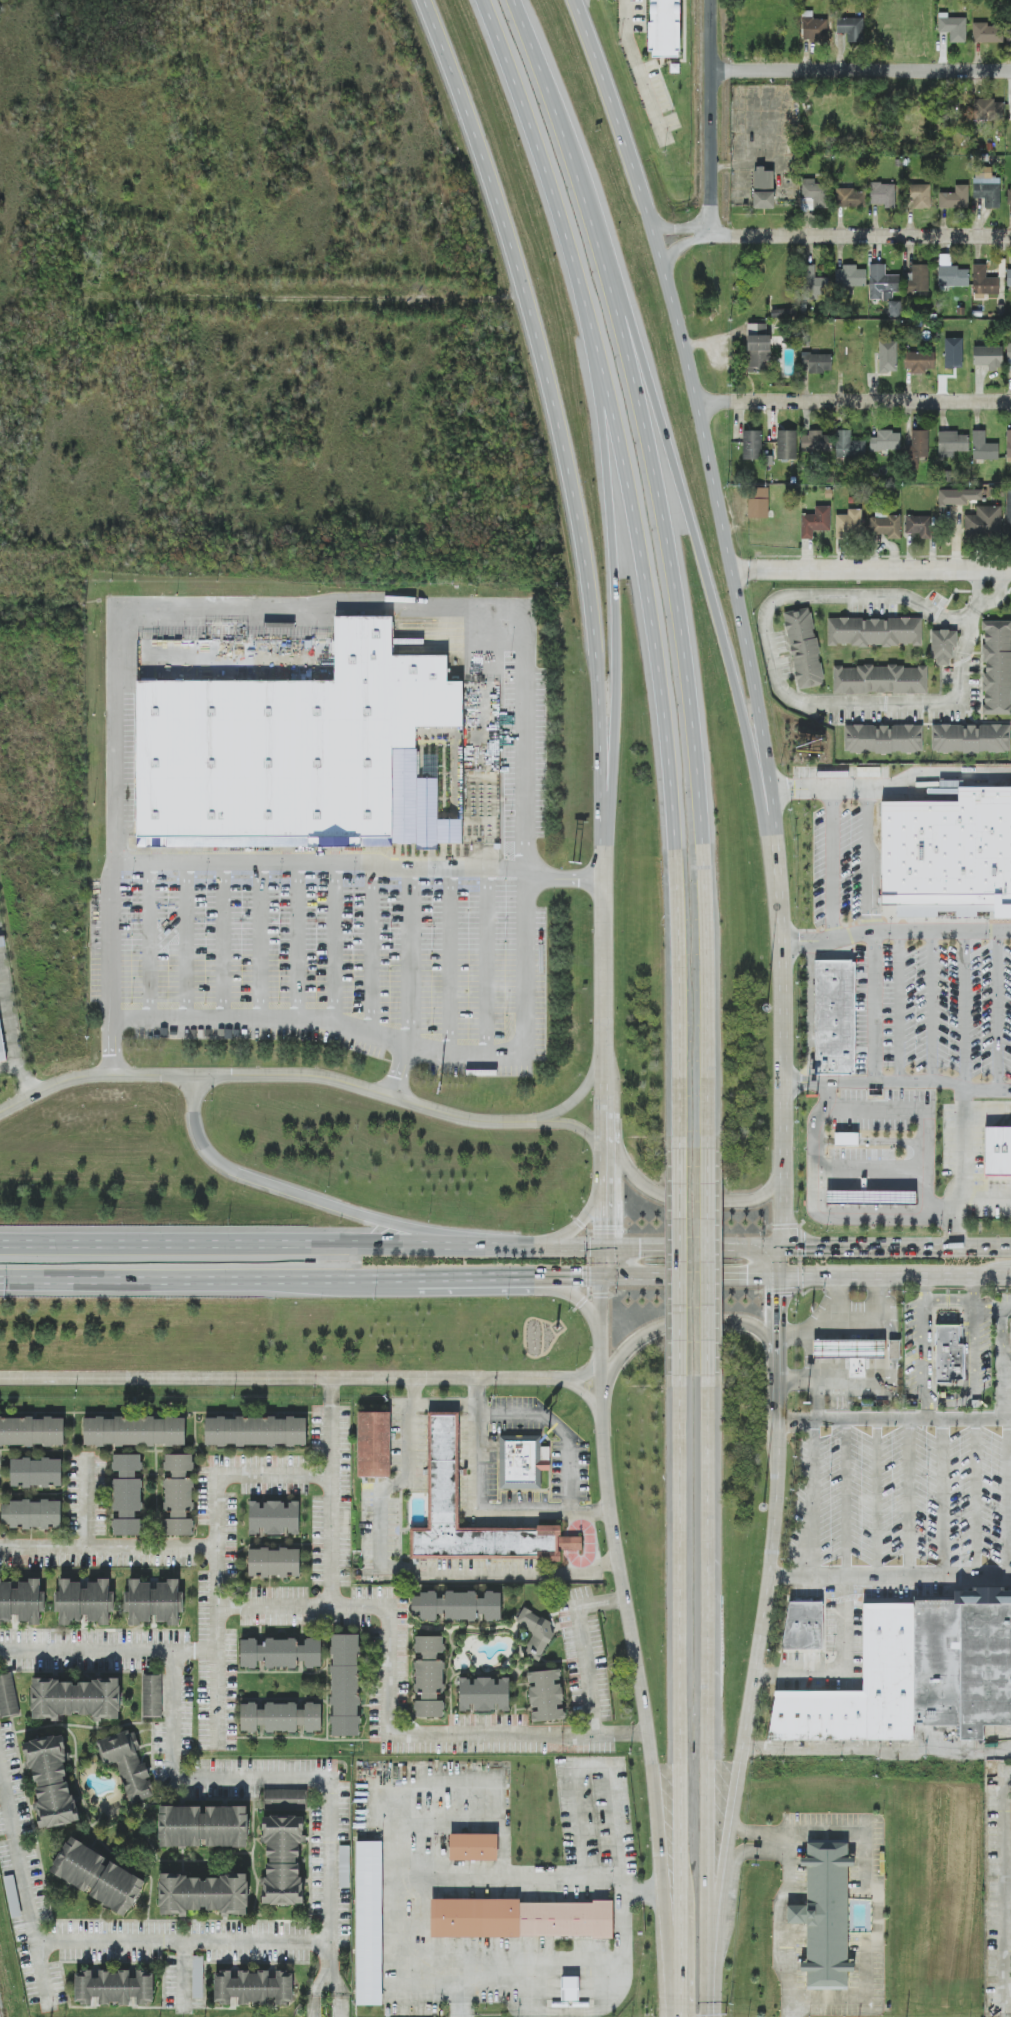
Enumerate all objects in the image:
building: (953, 27)
building: (851, 28)
building: (664, 29)
building: (814, 29)
building: (987, 33)
building: (1009, 33)
road: (639, 68)
road: (861, 71)
road: (553, 97)
building: (986, 110)
road: (711, 116)
road: (534, 142)
building: (763, 179)
building: (987, 190)
building: (812, 194)
building: (882, 194)
building: (920, 196)
building: (1009, 197)
building: (849, 198)
building: (955, 198)
building: (763, 200)
road: (680, 228)
road: (859, 234)
road: (683, 244)
building: (951, 273)
building: (850, 277)
building: (1008, 278)
building: (919, 280)
building: (813, 283)
building: (882, 283)
building: (984, 283)
building: (894, 309)
building: (783, 313)
building: (758, 348)
building: (1009, 355)
building: (888, 357)
building: (988, 357)
building: (918, 361)
building: (954, 362)
building: (816, 363)
road: (855, 399)
road: (555, 415)
road: (703, 423)
building: (885, 441)
building: (815, 443)
building: (952, 444)
building: (752, 445)
building: (787, 445)
building: (848, 446)
building: (1008, 446)
building: (918, 447)
building: (983, 447)
building: (958, 497)
building: (758, 502)
building: (1008, 513)
building: (816, 522)
building: (983, 522)
building: (849, 524)
road: (691, 525)
building: (886, 525)
building: (919, 526)
road: (613, 567)
road: (872, 569)
road: (987, 602)
road: (515, 607)
building: (875, 632)
road: (481, 639)
building: (943, 647)
building: (804, 648)
road: (688, 662)
building: (997, 667)
building: (880, 679)
road: (780, 686)
road: (665, 709)
building: (883, 739)
building: (971, 739)
building: (286, 747)
road: (890, 776)
road: (823, 858)
building: (944, 859)
road: (361, 862)
building: (432, 904)
road: (895, 931)
road: (148, 940)
road: (188, 940)
road: (225, 940)
road: (263, 941)
road: (298, 941)
road: (335, 942)
road: (372, 951)
road: (449, 962)
road: (488, 963)
road: (605, 968)
road: (409, 985)
road: (874, 1006)
road: (899, 1006)
road: (933, 1008)
road: (804, 1011)
building: (835, 1017)
road: (8, 1018)
building: (2, 1045)
road: (781, 1054)
road: (8, 1068)
road: (264, 1075)
road: (26, 1080)
road: (896, 1081)
road: (965, 1092)
road: (580, 1096)
road: (606, 1107)
road: (924, 1110)
road: (191, 1114)
road: (575, 1126)
building: (851, 1137)
building: (997, 1151)
building: (870, 1196)
gas station: (870, 1196)
road: (985, 1197)
road: (602, 1201)
road: (681, 1202)
road: (344, 1209)
road: (819, 1213)
traffic signals: (602, 1225)
road: (567, 1231)
road: (300, 1247)
traffic signals: (640, 1250)
road: (691, 1250)
traffic signals: (805, 1250)
road: (896, 1250)
road: (679, 1260)
road: (707, 1261)
road: (779, 1262)
road: (894, 1275)
road: (689, 1276)
traffic signals: (748, 1276)
road: (209, 1278)
road: (481, 1279)
road: (572, 1279)
traffic signals: (582, 1279)
road: (926, 1288)
road: (578, 1296)
traffic signals: (778, 1297)
road: (962, 1302)
road: (991, 1303)
road: (777, 1317)
road: (880, 1320)
building: (1010, 1323)
road: (675, 1324)
road: (829, 1325)
road: (1004, 1328)
building: (894, 1348)
building: (850, 1351)
road: (1008, 1351)
road: (926, 1353)
building: (949, 1353)
road: (586, 1373)
road: (809, 1373)
road: (973, 1374)
road: (285, 1377)
road: (848, 1383)
road: (1005, 1386)
road: (333, 1390)
road: (587, 1390)
road: (818, 1400)
road: (777, 1402)
road: (444, 1405)
road: (926, 1412)
road: (894, 1420)
road: (558, 1428)
building: (134, 1430)
building: (32, 1431)
building: (256, 1431)
building: (374, 1444)
building: (522, 1461)
building: (443, 1468)
building: (36, 1472)
road: (275, 1474)
building: (127, 1494)
building: (178, 1494)
road: (810, 1497)
road: (846, 1498)
road: (877, 1499)
road: (910, 1499)
road: (943, 1500)
road: (976, 1500)
road: (89, 1501)
road: (1008, 1501)
road: (333, 1505)
road: (612, 1505)
road: (772, 1509)
road: (478, 1510)
building: (32, 1513)
building: (274, 1517)
road: (571, 1542)
road: (590, 1542)
road: (108, 1547)
road: (216, 1561)
building: (274, 1562)
road: (398, 1574)
road: (890, 1578)
building: (21, 1601)
building: (84, 1601)
building: (154, 1601)
building: (456, 1606)
road: (299, 1607)
building: (805, 1615)
building: (536, 1632)
building: (803, 1640)
road: (584, 1646)
road: (107, 1650)
building: (281, 1653)
road: (679, 1654)
road: (711, 1654)
building: (962, 1660)
road: (842, 1665)
road: (385, 1670)
building: (429, 1676)
building: (345, 1684)
building: (484, 1693)
building: (152, 1694)
building: (546, 1694)
building: (8, 1696)
building: (75, 1697)
road: (215, 1698)
road: (752, 1700)
building: (281, 1716)
road: (605, 1732)
road: (475, 1733)
road: (878, 1747)
building: (127, 1763)
road: (593, 1765)
road: (267, 1775)
building: (51, 1781)
building: (285, 1798)
road: (661, 1809)
building: (203, 1826)
road: (753, 1832)
building: (473, 1846)
road: (748, 1849)
road: (17, 1856)
building: (282, 1858)
building: (98, 1875)
road: (718, 1875)
road: (561, 1876)
road: (649, 1888)
building: (204, 1893)
road: (1005, 1895)
road: (879, 1903)
road: (677, 1907)
building: (825, 1913)
building: (522, 1918)
building: (369, 1921)
road: (777, 1924)
road: (180, 1938)
road: (326, 1953)
road: (707, 1971)
road: (41, 1972)
road: (681, 1972)
building: (198, 1975)
road: (319, 1981)
road: (334, 1982)
building: (113, 1986)
building: (253, 1987)
building: (570, 1988)
road: (462, 1995)
road: (316, 2006)
road: (340, 2007)

